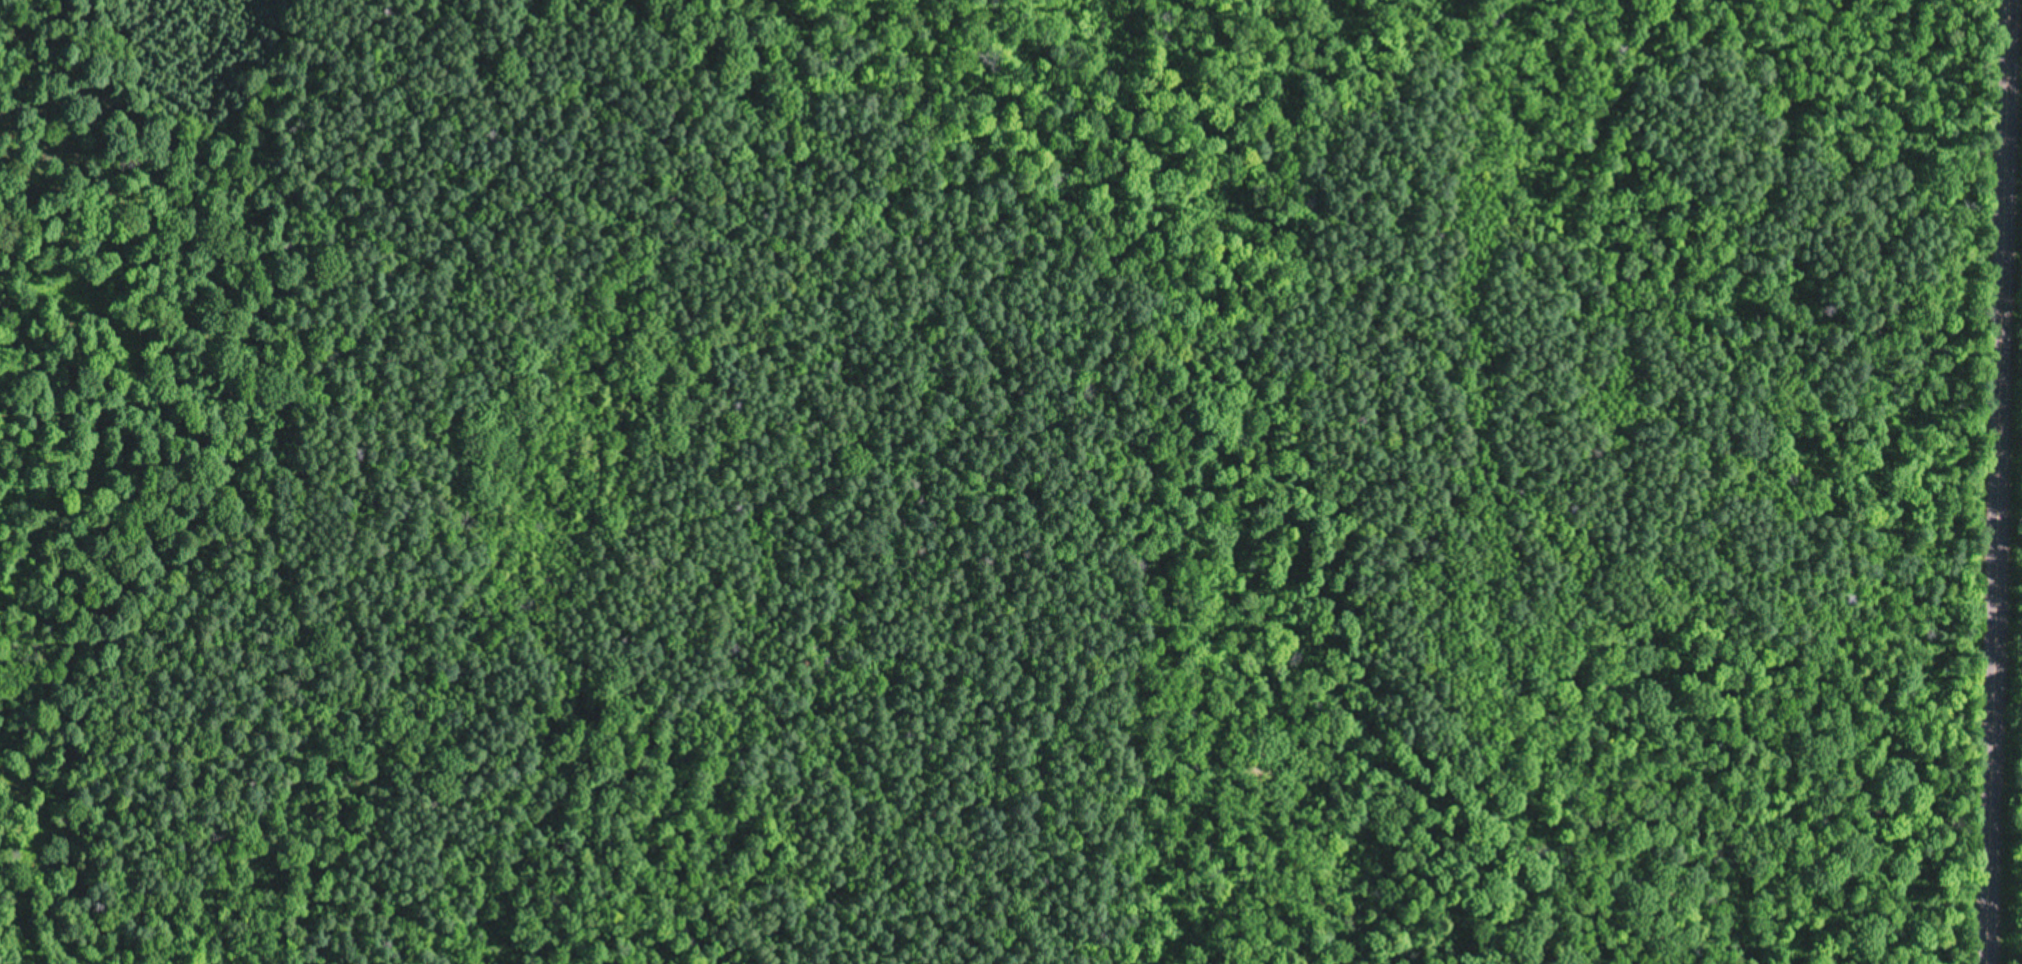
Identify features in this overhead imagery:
road: (1992, 482)

